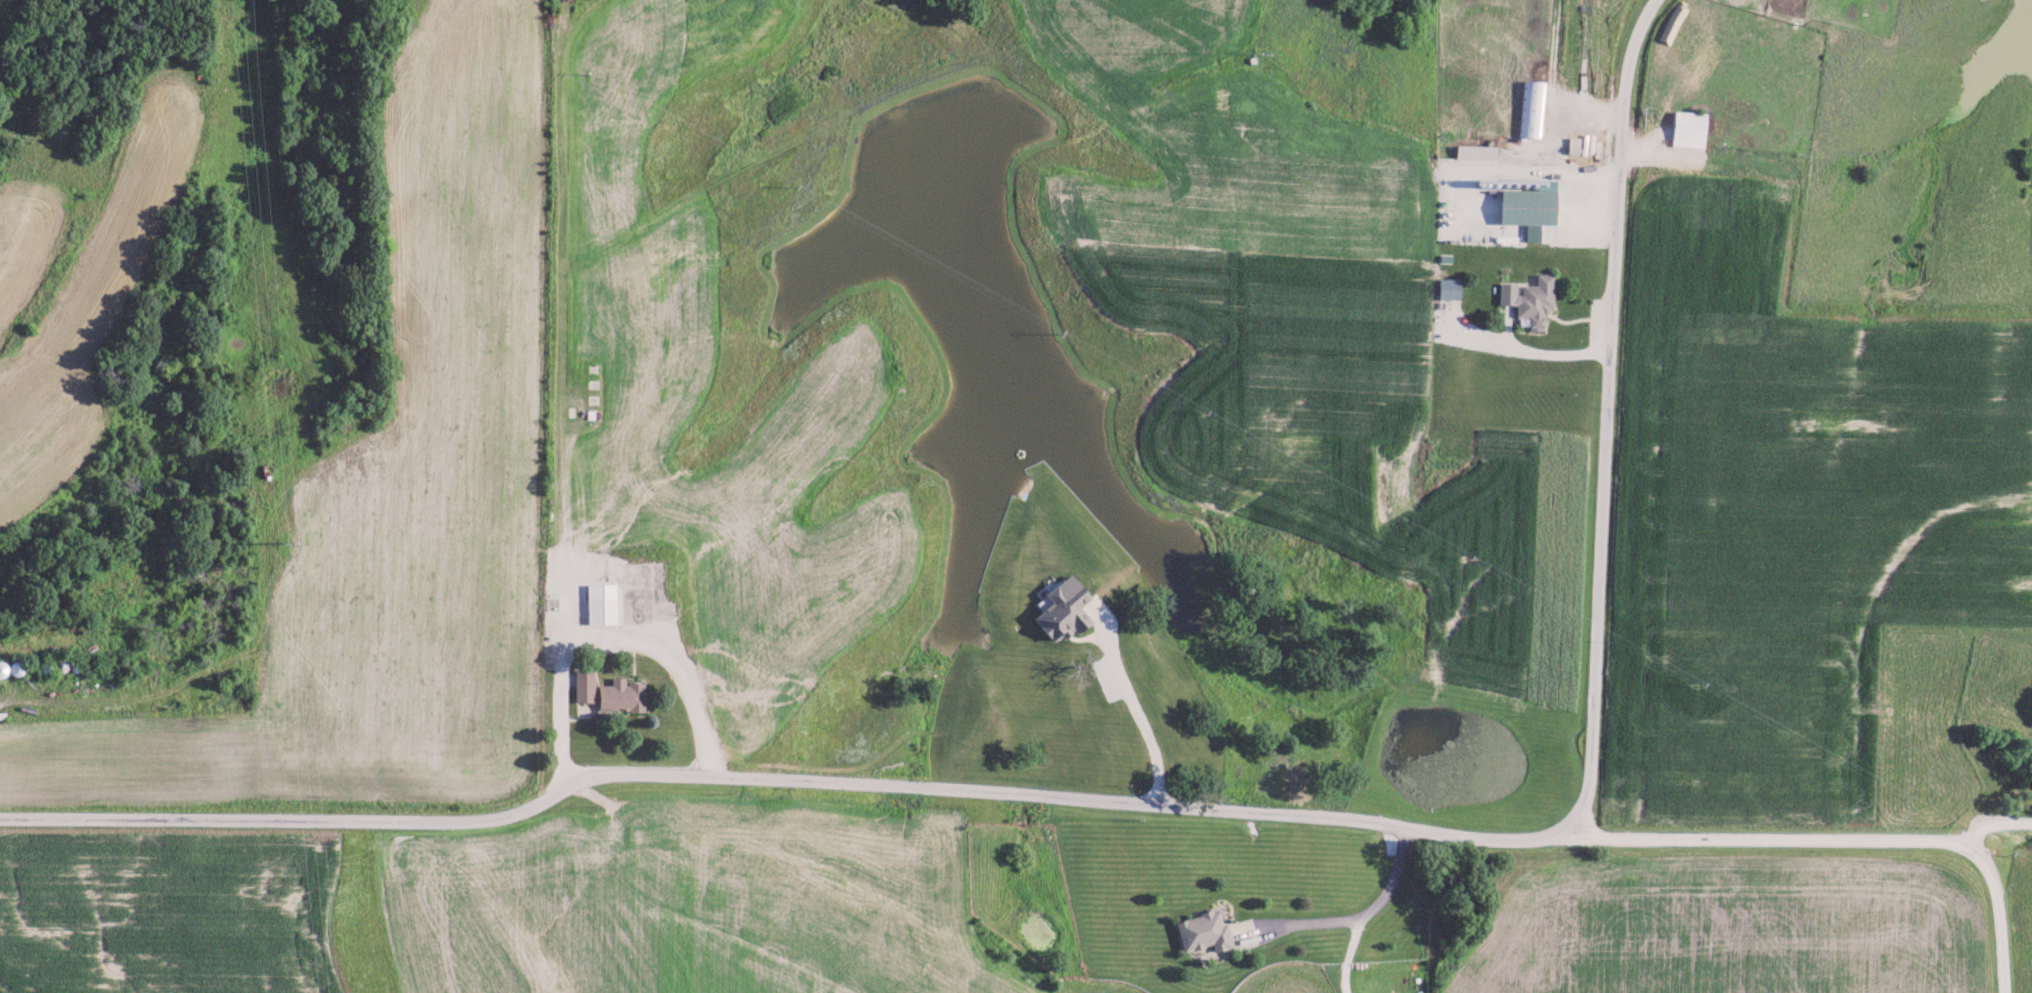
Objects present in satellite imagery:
building: (1531, 108)
building: (1686, 128)
building: (1571, 144)
building: (1474, 151)
building: (1527, 207)
building: (1448, 287)
building: (1528, 296)
road: (555, 391)
building: (598, 601)
building: (1059, 608)
road: (670, 656)
building: (607, 690)
road: (1200, 806)
road: (1993, 818)
road: (1851, 835)
road: (1349, 915)
building: (1200, 930)
road: (1347, 953)

